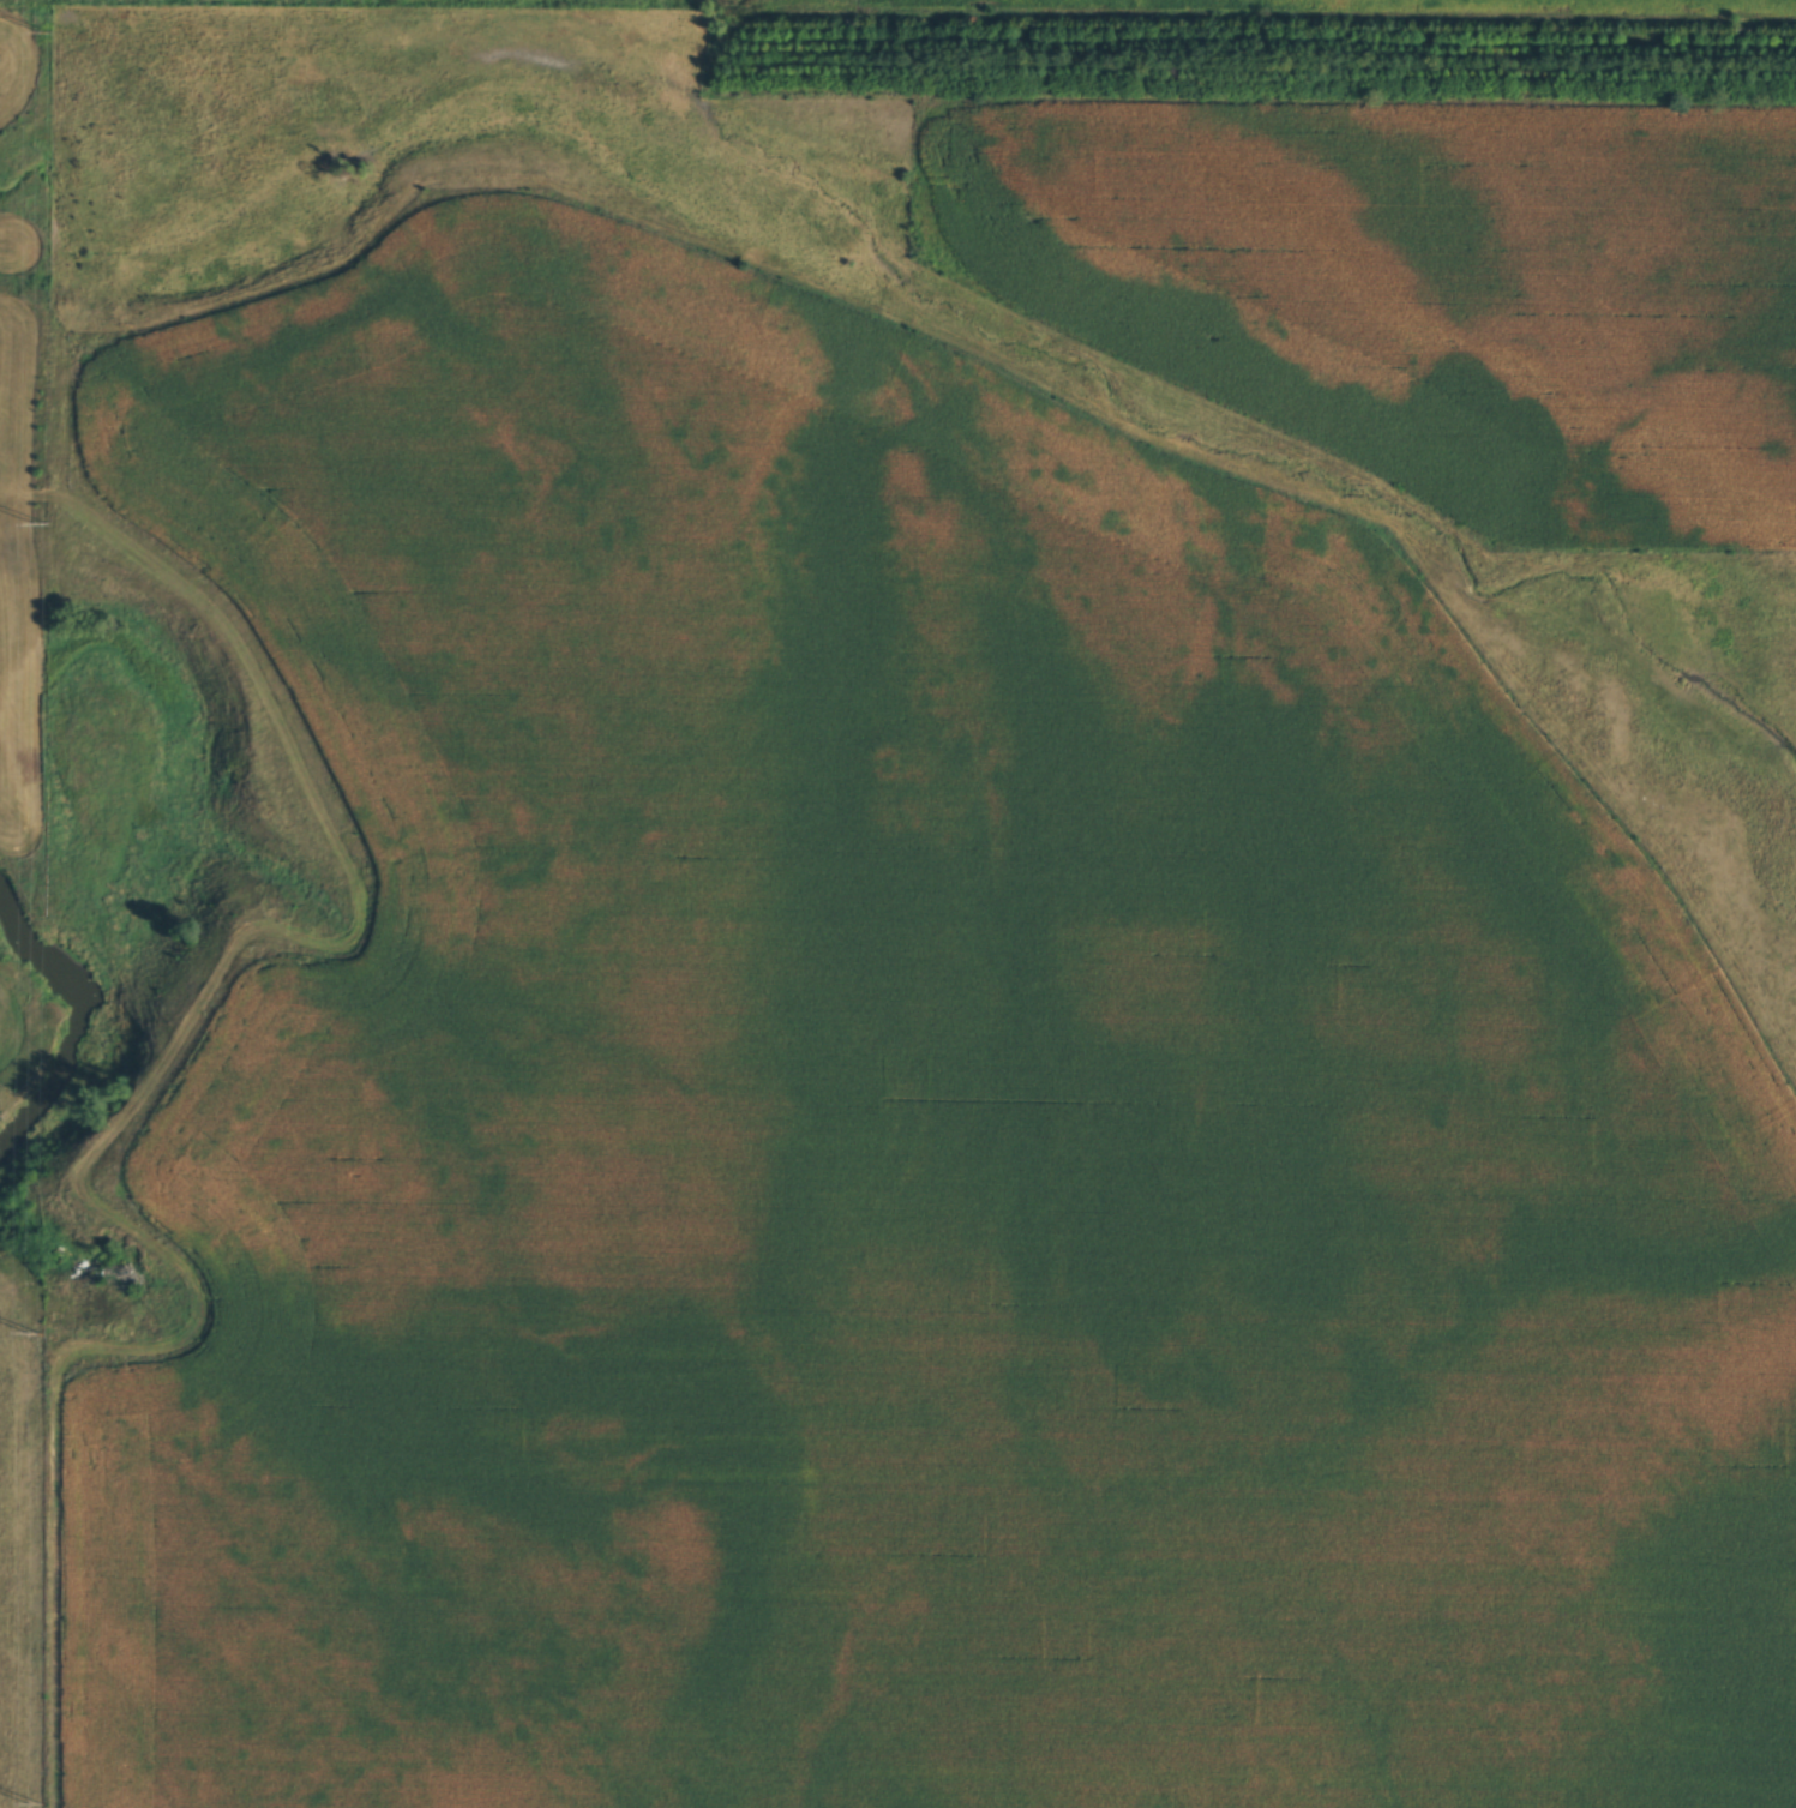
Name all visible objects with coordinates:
power tower: (46, 32)
crop: (1429, 290)
power tower: (42, 524)
power tower: (36, 1334)
power tower: (36, 1804)

